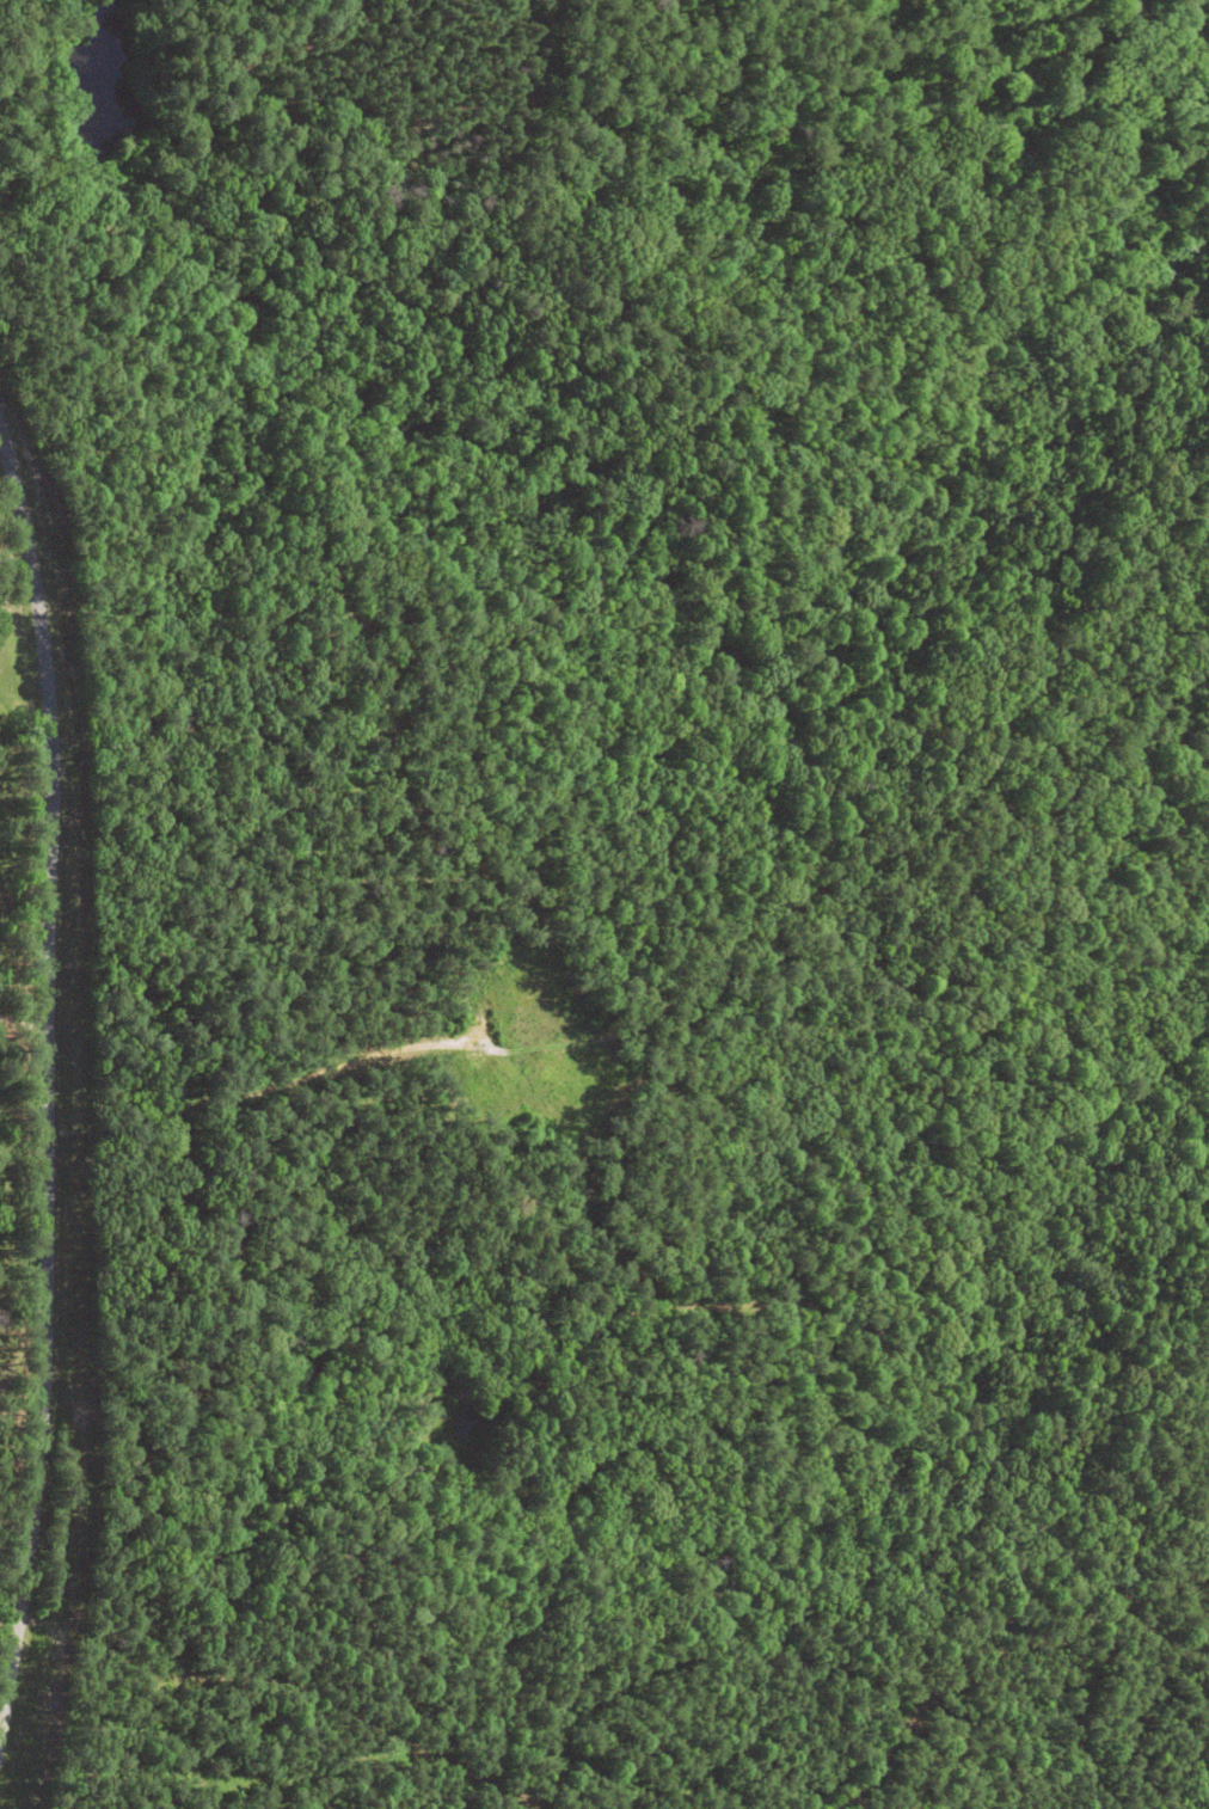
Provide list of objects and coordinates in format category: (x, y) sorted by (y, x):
road: (12, 1136)

